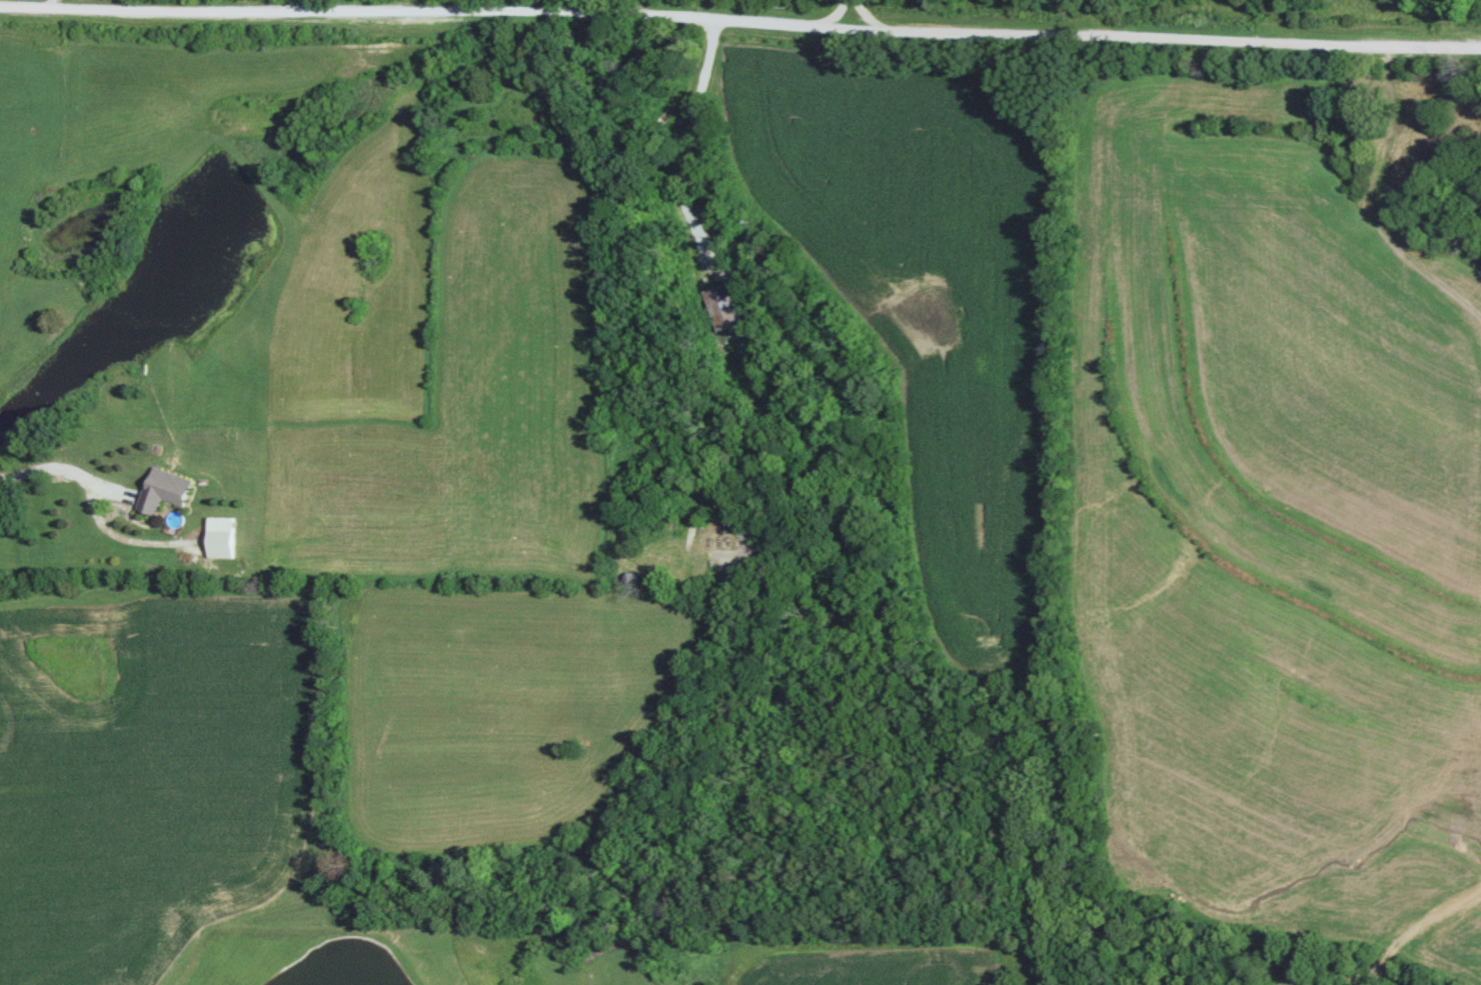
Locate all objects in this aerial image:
road: (836, 14)
road: (865, 14)
road: (740, 22)
road: (734, 255)
building: (726, 306)
building: (167, 489)
building: (225, 537)

